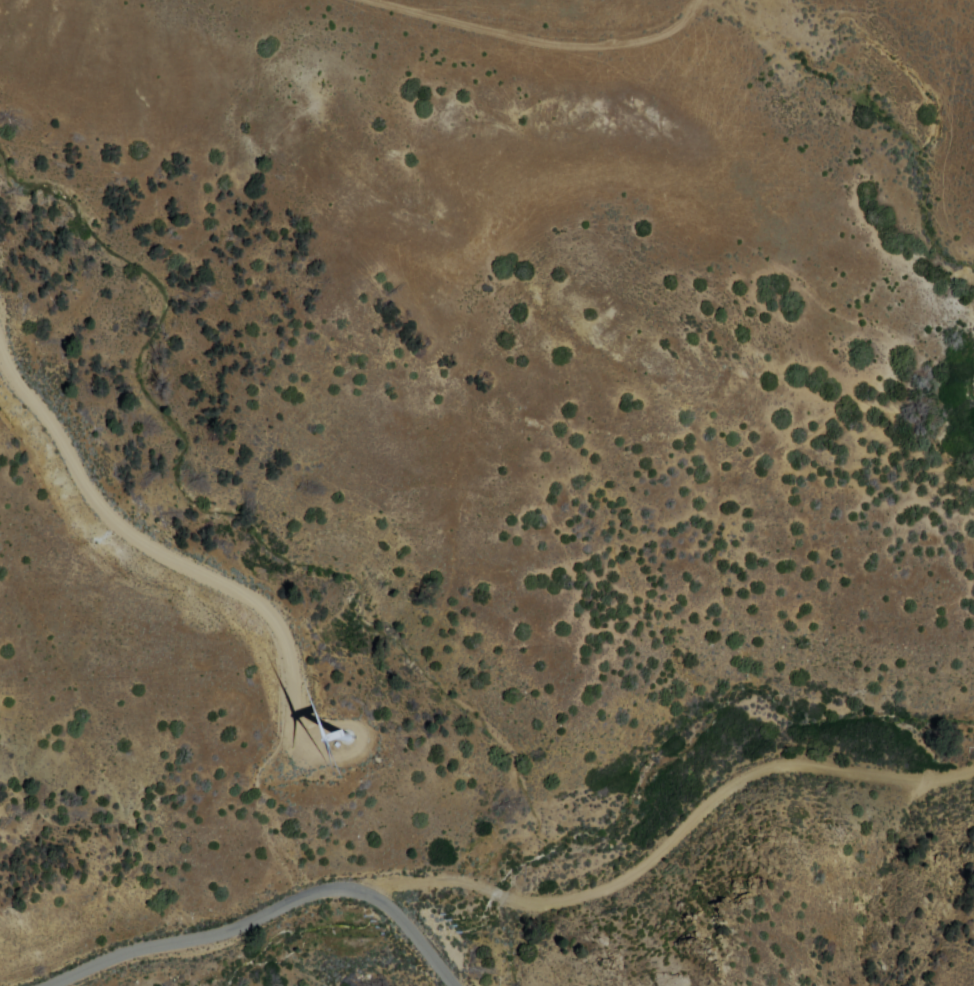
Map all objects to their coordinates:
road: (537, 35)
wind turbine: (346, 726)
road: (511, 850)

